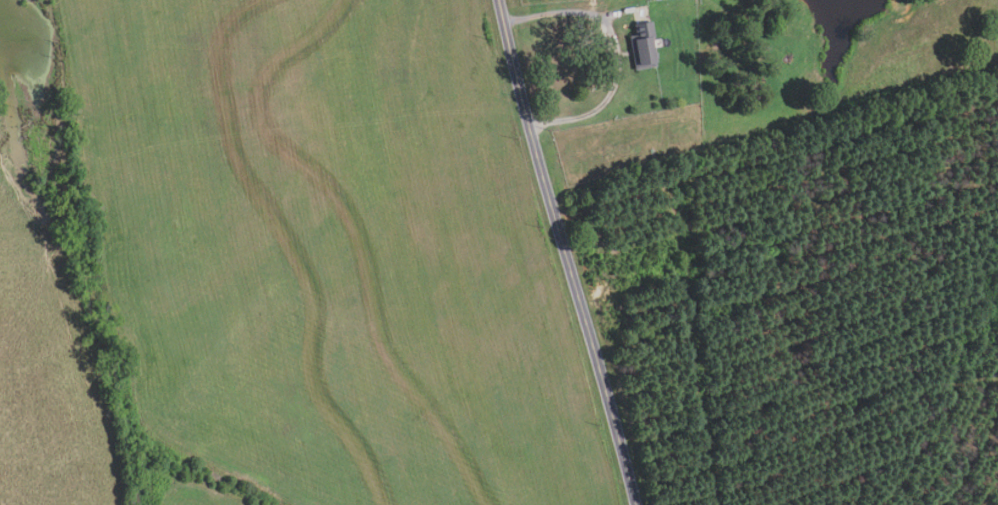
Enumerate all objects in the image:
building: (643, 46)
road: (616, 51)
river: (37, 95)
road: (566, 252)

